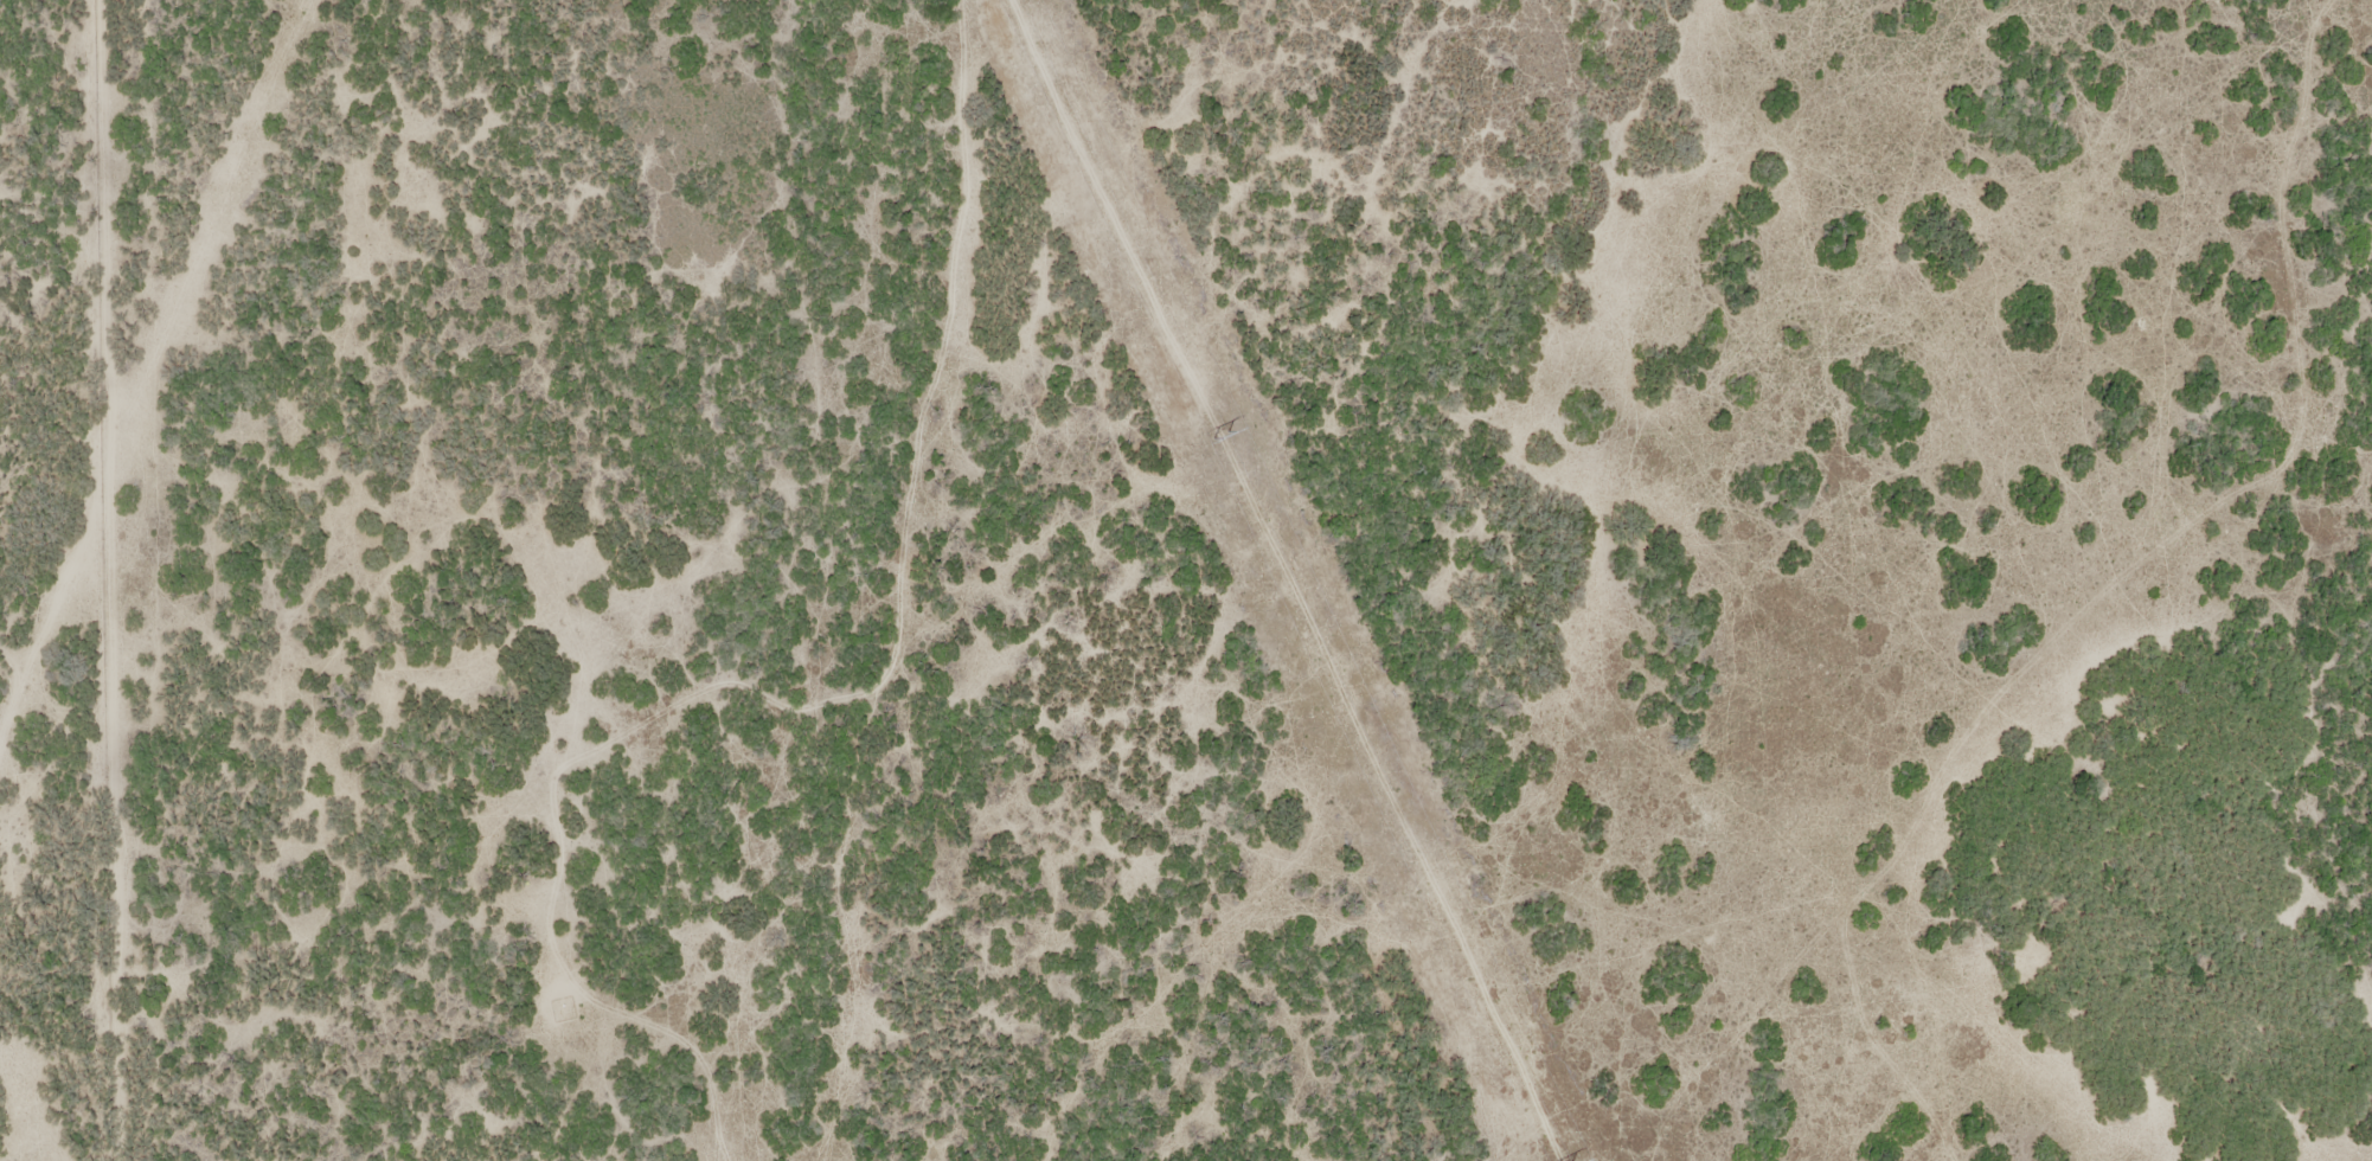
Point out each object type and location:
power tower: (1219, 437)
road: (1206, 565)
road: (1573, 578)
road: (887, 582)

